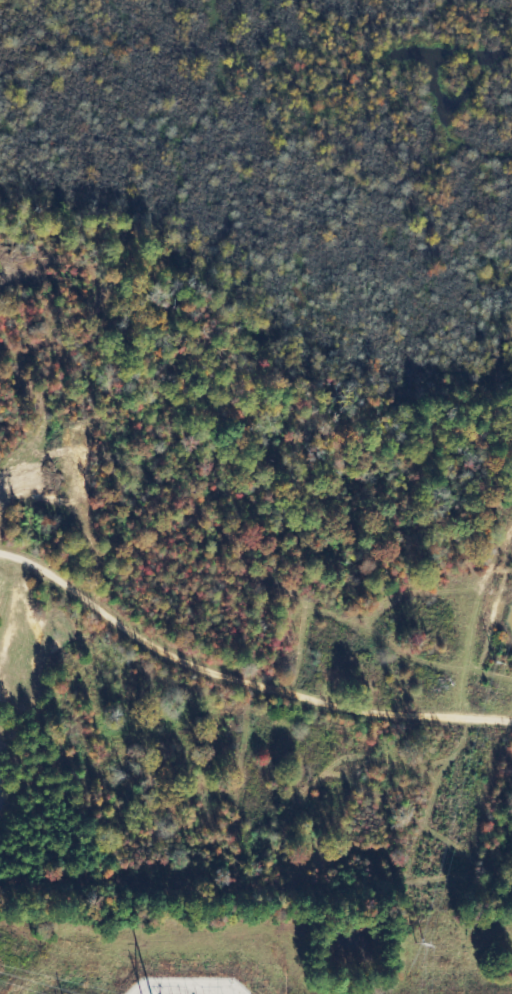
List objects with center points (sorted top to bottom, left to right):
power tower: (495, 663)
power tower: (422, 941)
power substation: (186, 986)

